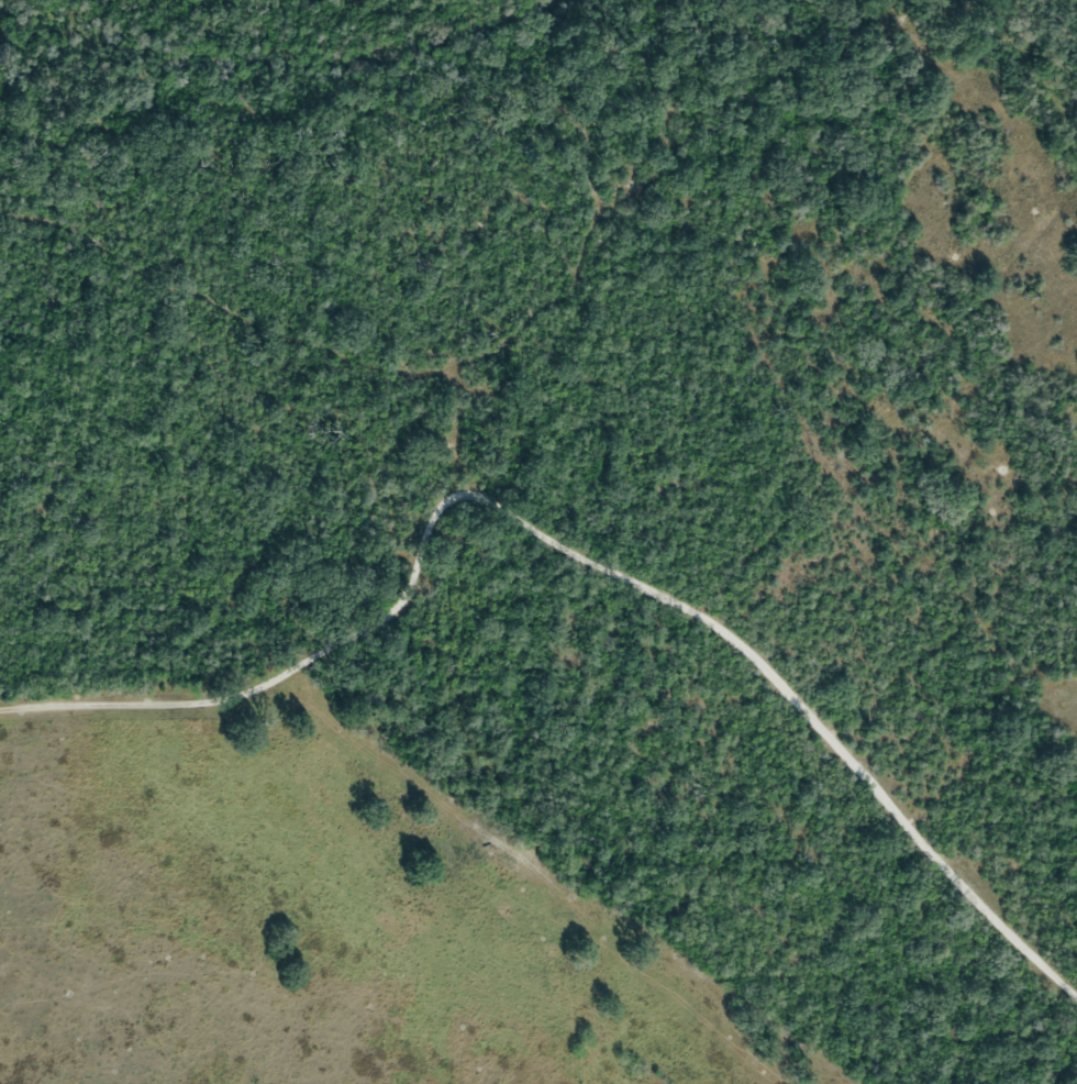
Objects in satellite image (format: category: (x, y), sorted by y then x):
road: (576, 575)

